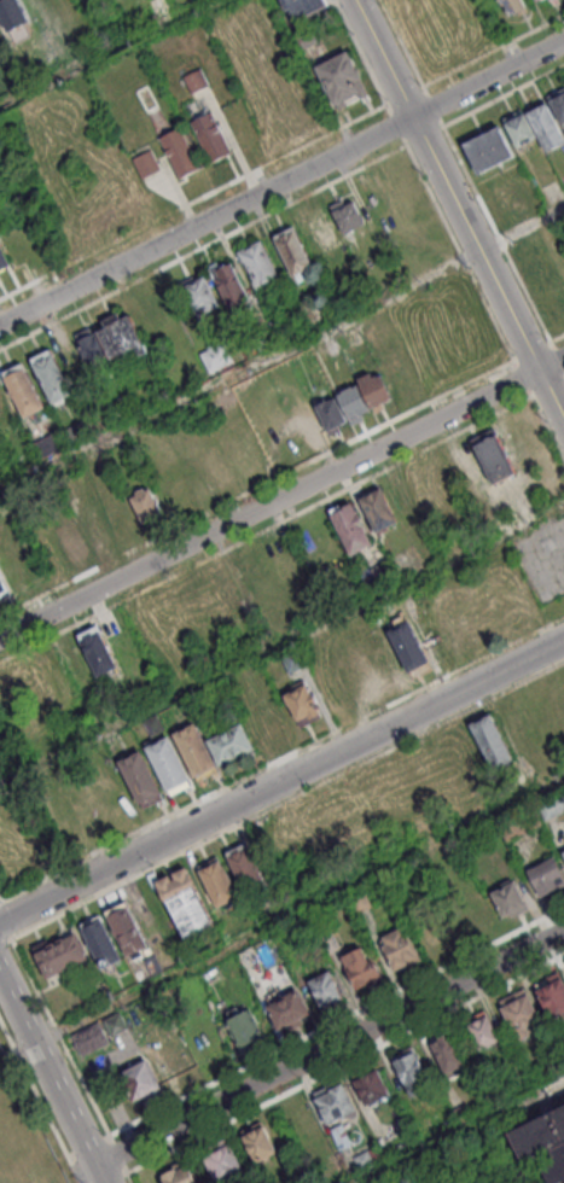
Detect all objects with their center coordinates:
building: (535, 1)
building: (540, 1)
building: (512, 5)
building: (303, 7)
building: (14, 17)
building: (303, 36)
road: (106, 53)
building: (341, 78)
building: (194, 80)
building: (558, 107)
building: (546, 124)
building: (521, 129)
building: (209, 135)
building: (488, 148)
building: (179, 152)
building: (145, 162)
road: (281, 182)
building: (507, 196)
road: (459, 209)
building: (347, 215)
building: (322, 231)
building: (293, 250)
building: (2, 258)
building: (257, 264)
building: (232, 287)
building: (199, 295)
building: (121, 336)
building: (87, 344)
road: (281, 354)
building: (215, 355)
building: (51, 375)
building: (374, 389)
building: (23, 390)
building: (353, 402)
building: (5, 412)
building: (330, 413)
road: (547, 429)
building: (76, 431)
building: (48, 445)
building: (494, 458)
road: (281, 499)
building: (145, 502)
building: (377, 509)
building: (118, 518)
road: (264, 526)
building: (350, 526)
building: (71, 542)
building: (383, 573)
building: (2, 590)
building: (223, 591)
road: (281, 643)
building: (408, 646)
building: (98, 651)
building: (383, 658)
building: (293, 662)
building: (357, 671)
building: (124, 705)
building: (304, 705)
building: (153, 722)
building: (267, 724)
building: (490, 740)
building: (231, 747)
building: (194, 750)
road: (281, 758)
building: (168, 763)
building: (139, 777)
road: (281, 780)
road: (287, 799)
building: (83, 803)
building: (553, 809)
building: (521, 824)
building: (563, 851)
building: (245, 864)
building: (546, 875)
building: (216, 881)
building: (508, 898)
building: (187, 903)
building: (361, 904)
road: (300, 911)
building: (469, 916)
road: (5, 926)
building: (126, 928)
road: (5, 940)
building: (309, 940)
building: (100, 942)
building: (333, 944)
building: (399, 948)
building: (60, 952)
building: (360, 968)
building: (324, 986)
building: (552, 993)
building: (289, 1008)
building: (521, 1012)
road: (337, 1022)
building: (117, 1026)
building: (246, 1028)
building: (483, 1031)
road: (60, 1039)
building: (92, 1039)
road: (331, 1048)
building: (446, 1050)
road: (347, 1067)
building: (411, 1072)
road: (53, 1079)
building: (141, 1079)
building: (370, 1085)
road: (40, 1100)
building: (335, 1101)
building: (463, 1113)
road: (464, 1131)
building: (258, 1141)
building: (545, 1143)
road: (117, 1155)
building: (222, 1160)
building: (362, 1161)
road: (128, 1175)
building: (176, 1175)

